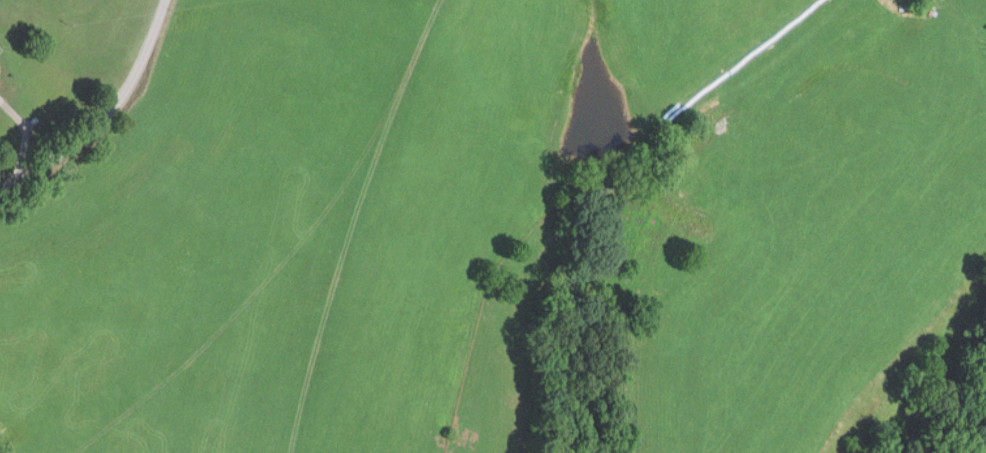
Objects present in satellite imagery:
road: (108, 117)

